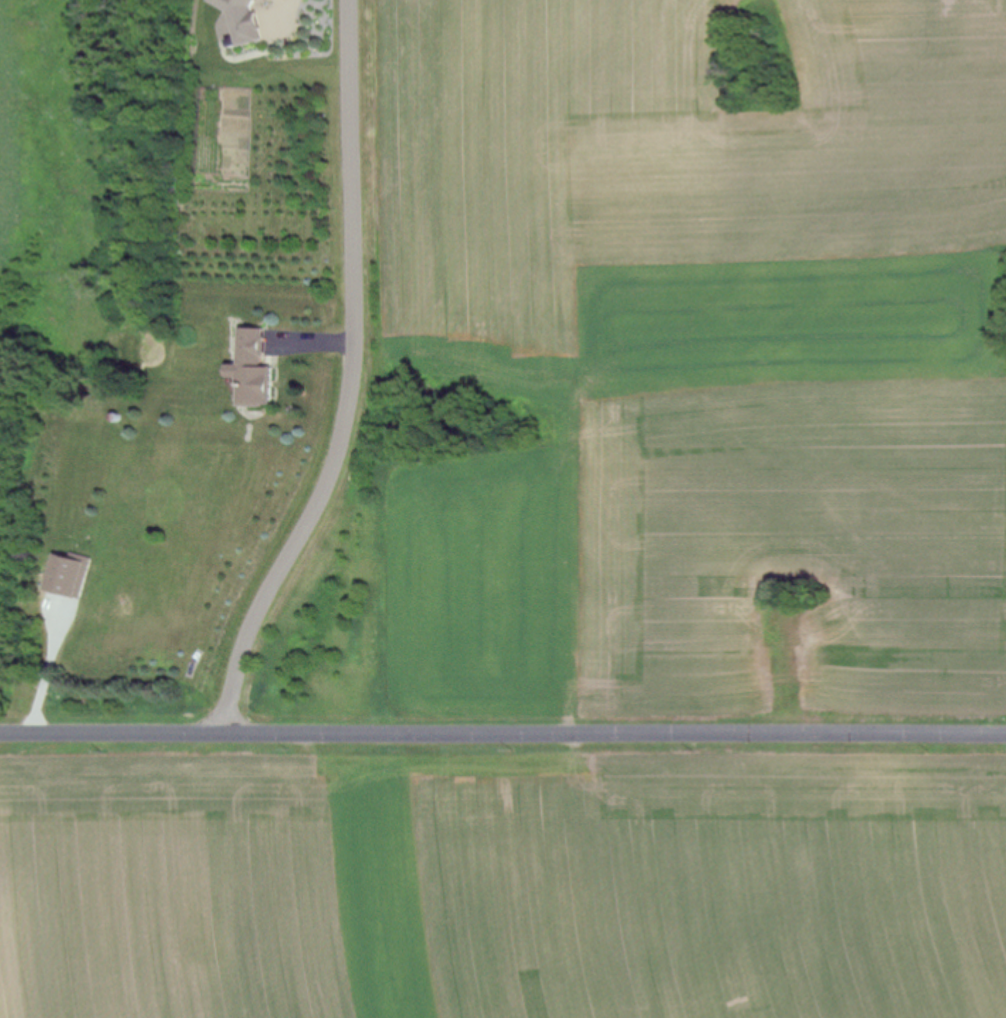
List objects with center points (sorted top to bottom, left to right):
road: (284, 13)
building: (246, 19)
building: (257, 369)
road: (355, 380)
building: (69, 575)
road: (46, 677)
road: (502, 734)

